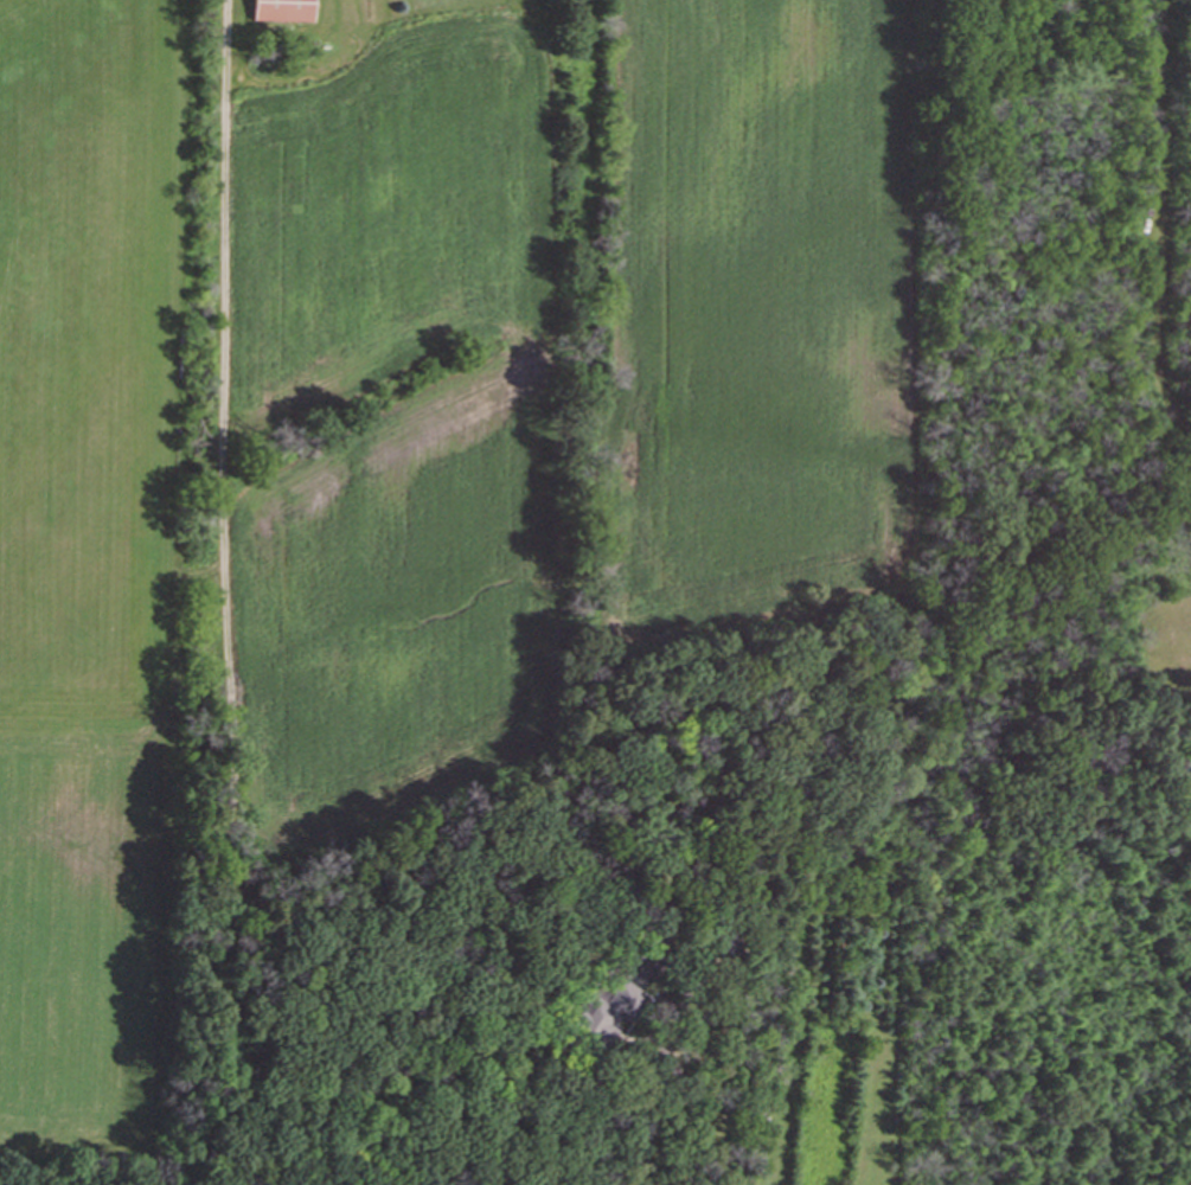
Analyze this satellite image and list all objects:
building: (281, 11)
crop: (396, 200)
crop: (754, 303)
crop: (78, 557)
crop: (398, 613)
road: (235, 698)
building: (602, 1012)
road: (702, 1112)

